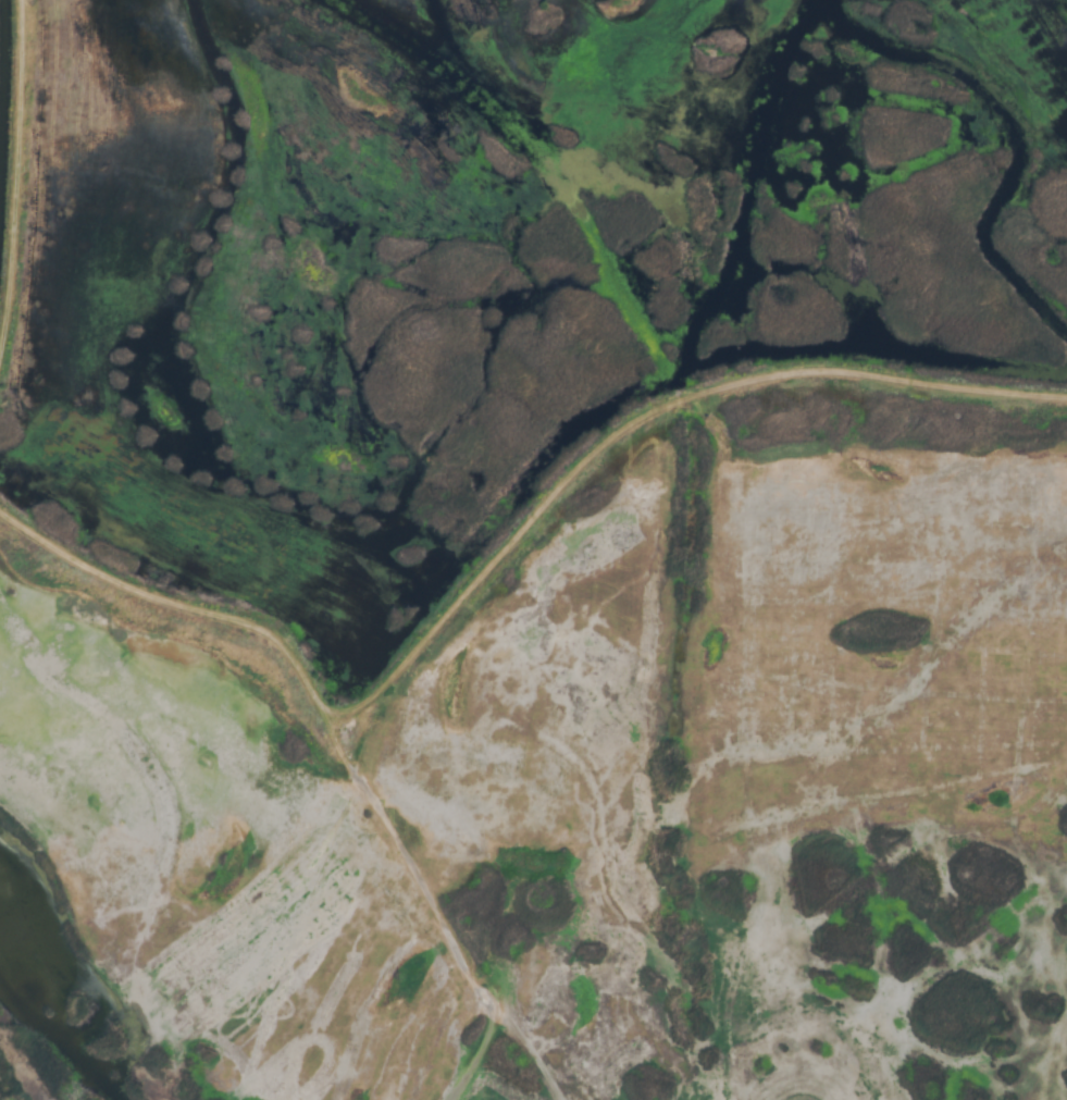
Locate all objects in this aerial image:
road: (196, 611)

